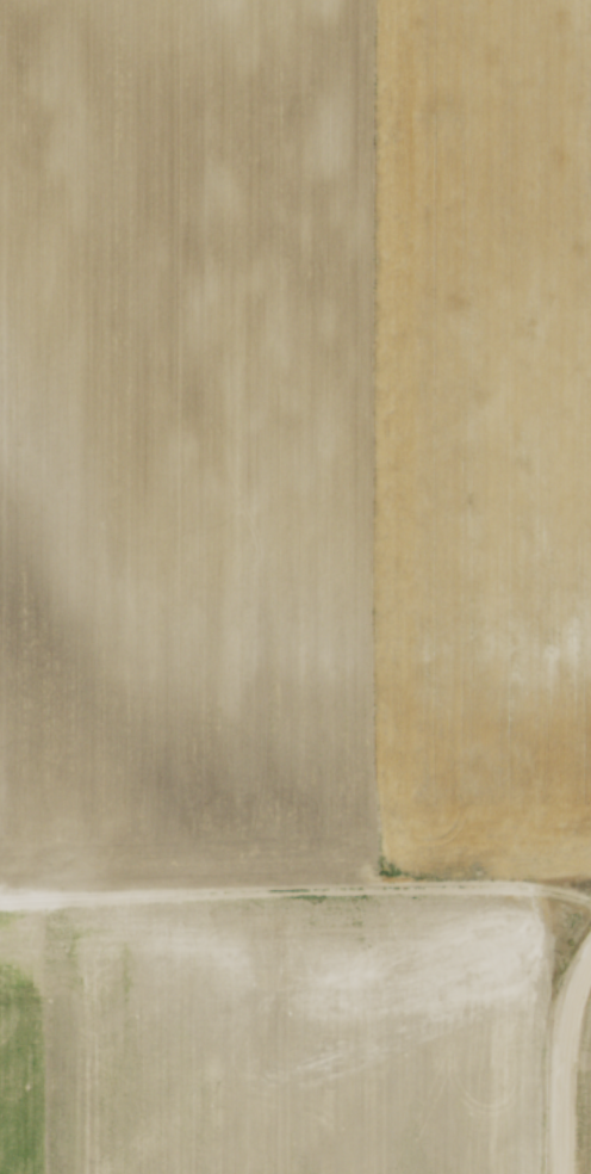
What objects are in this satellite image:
road: (295, 898)
road: (590, 958)
road: (566, 1064)

